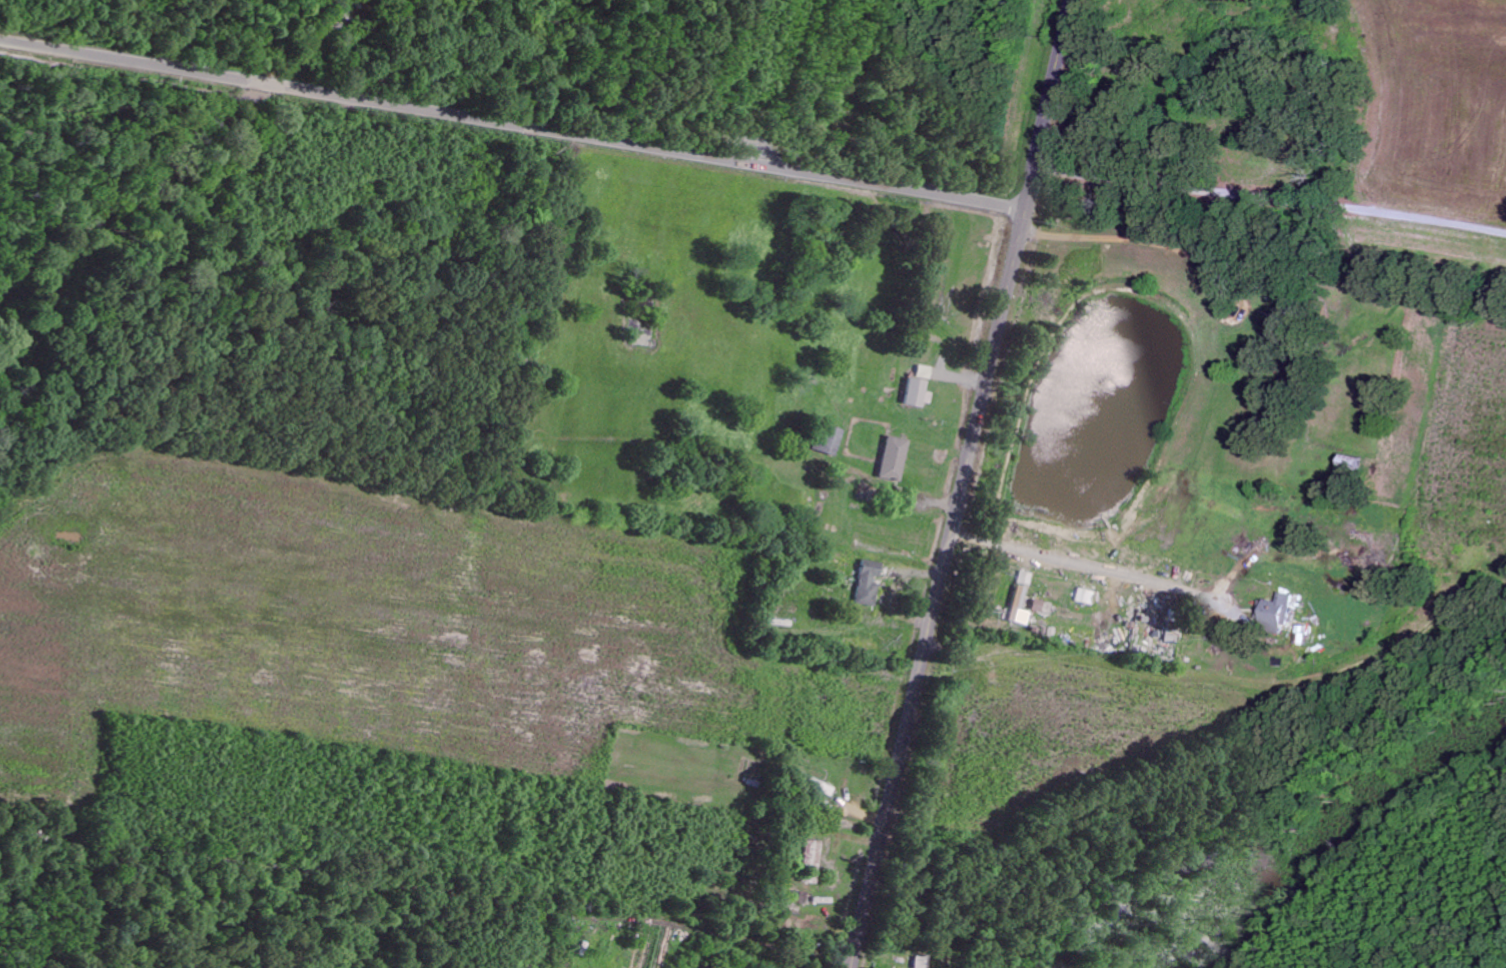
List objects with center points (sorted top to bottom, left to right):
road: (513, 123)
building: (915, 392)
building: (827, 439)
building: (892, 458)
road: (963, 484)
building: (867, 582)
building: (1020, 598)
building: (1037, 605)
building: (1279, 612)
road: (1100, 654)
building: (810, 861)
road: (1194, 885)
building: (919, 962)

